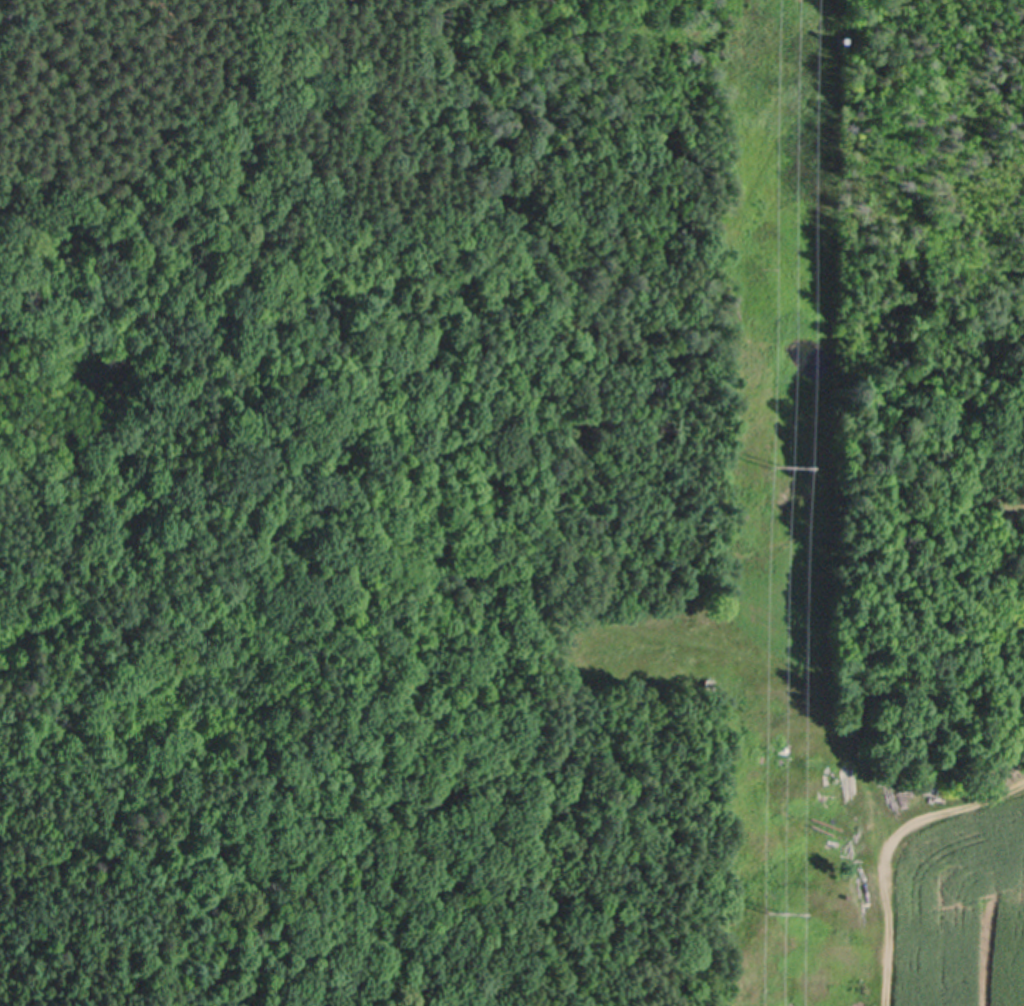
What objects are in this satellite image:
power tower: (779, 465)
building: (710, 679)
power tower: (768, 908)

